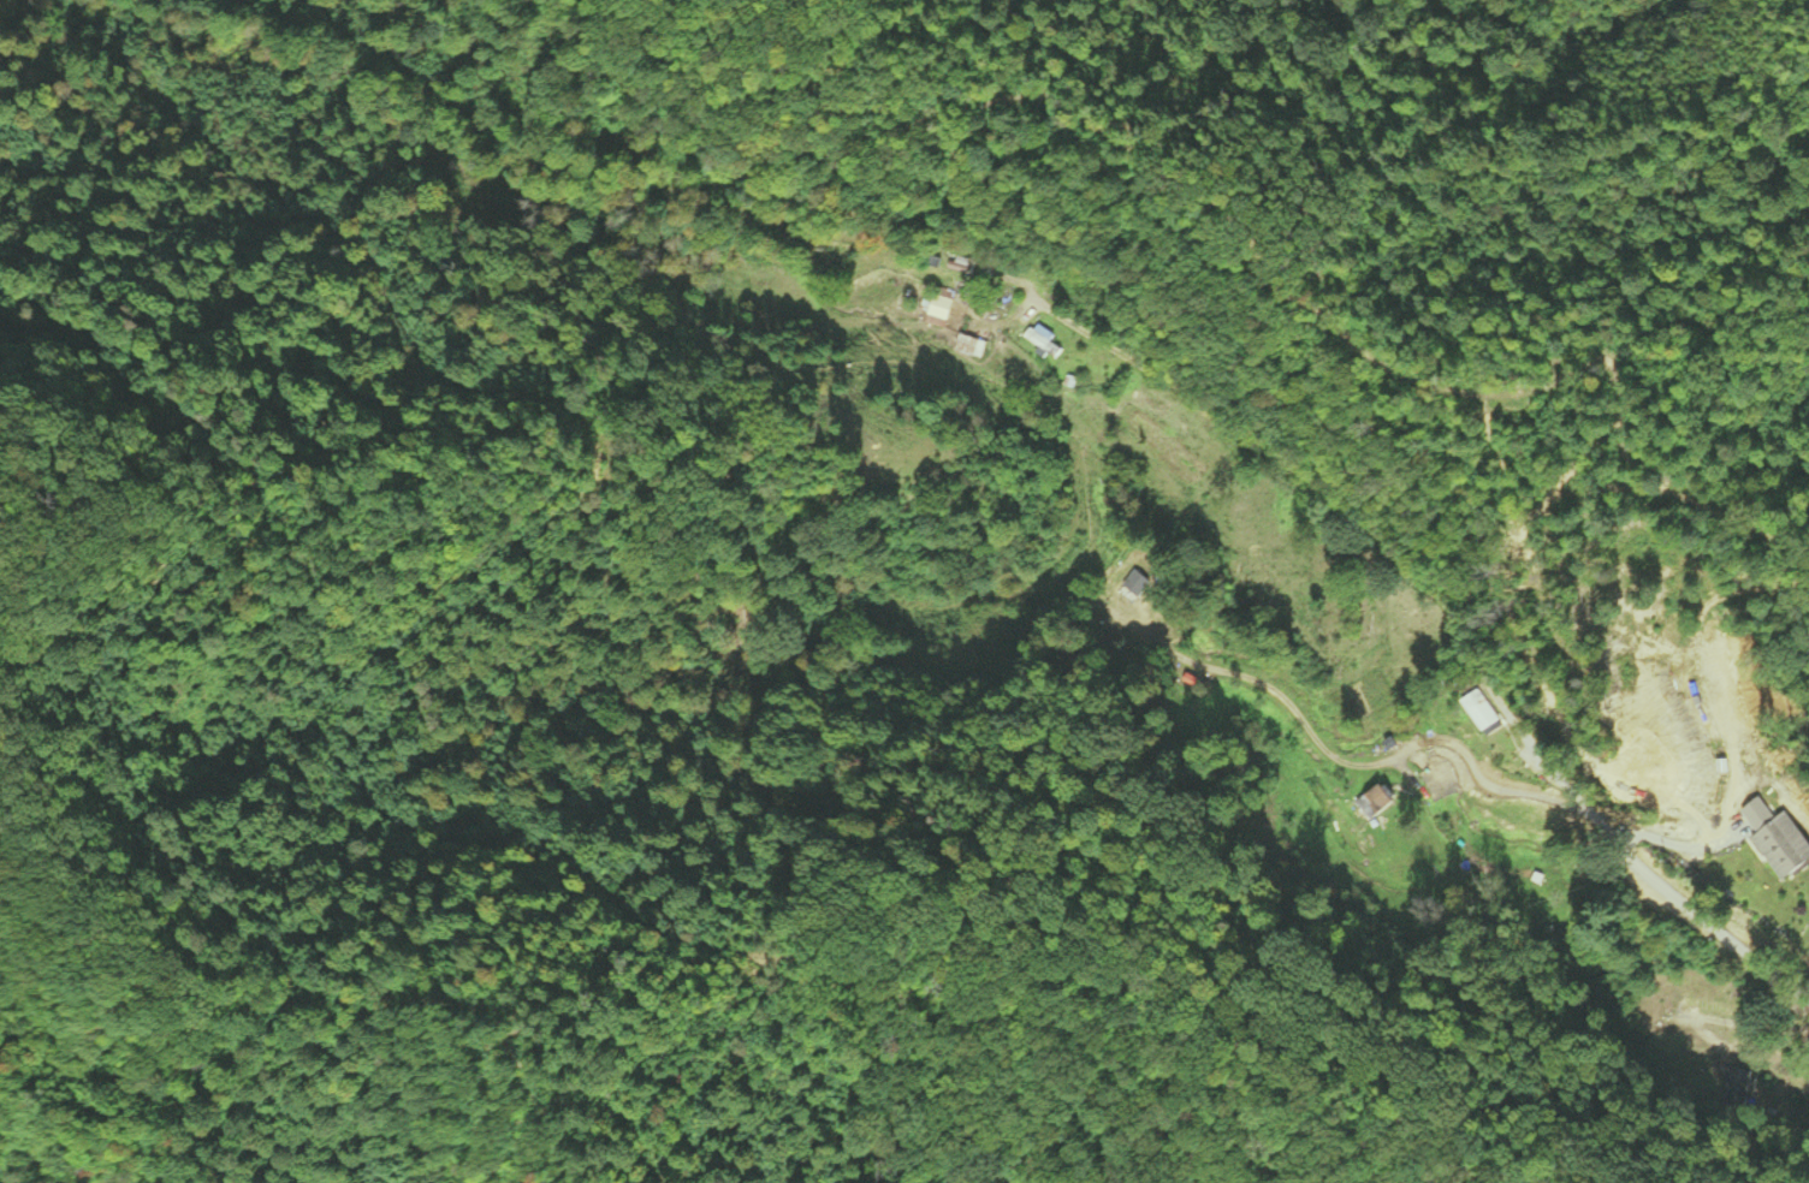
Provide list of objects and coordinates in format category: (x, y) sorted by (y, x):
building: (943, 308)
building: (975, 346)
road: (1437, 596)
building: (1477, 718)

